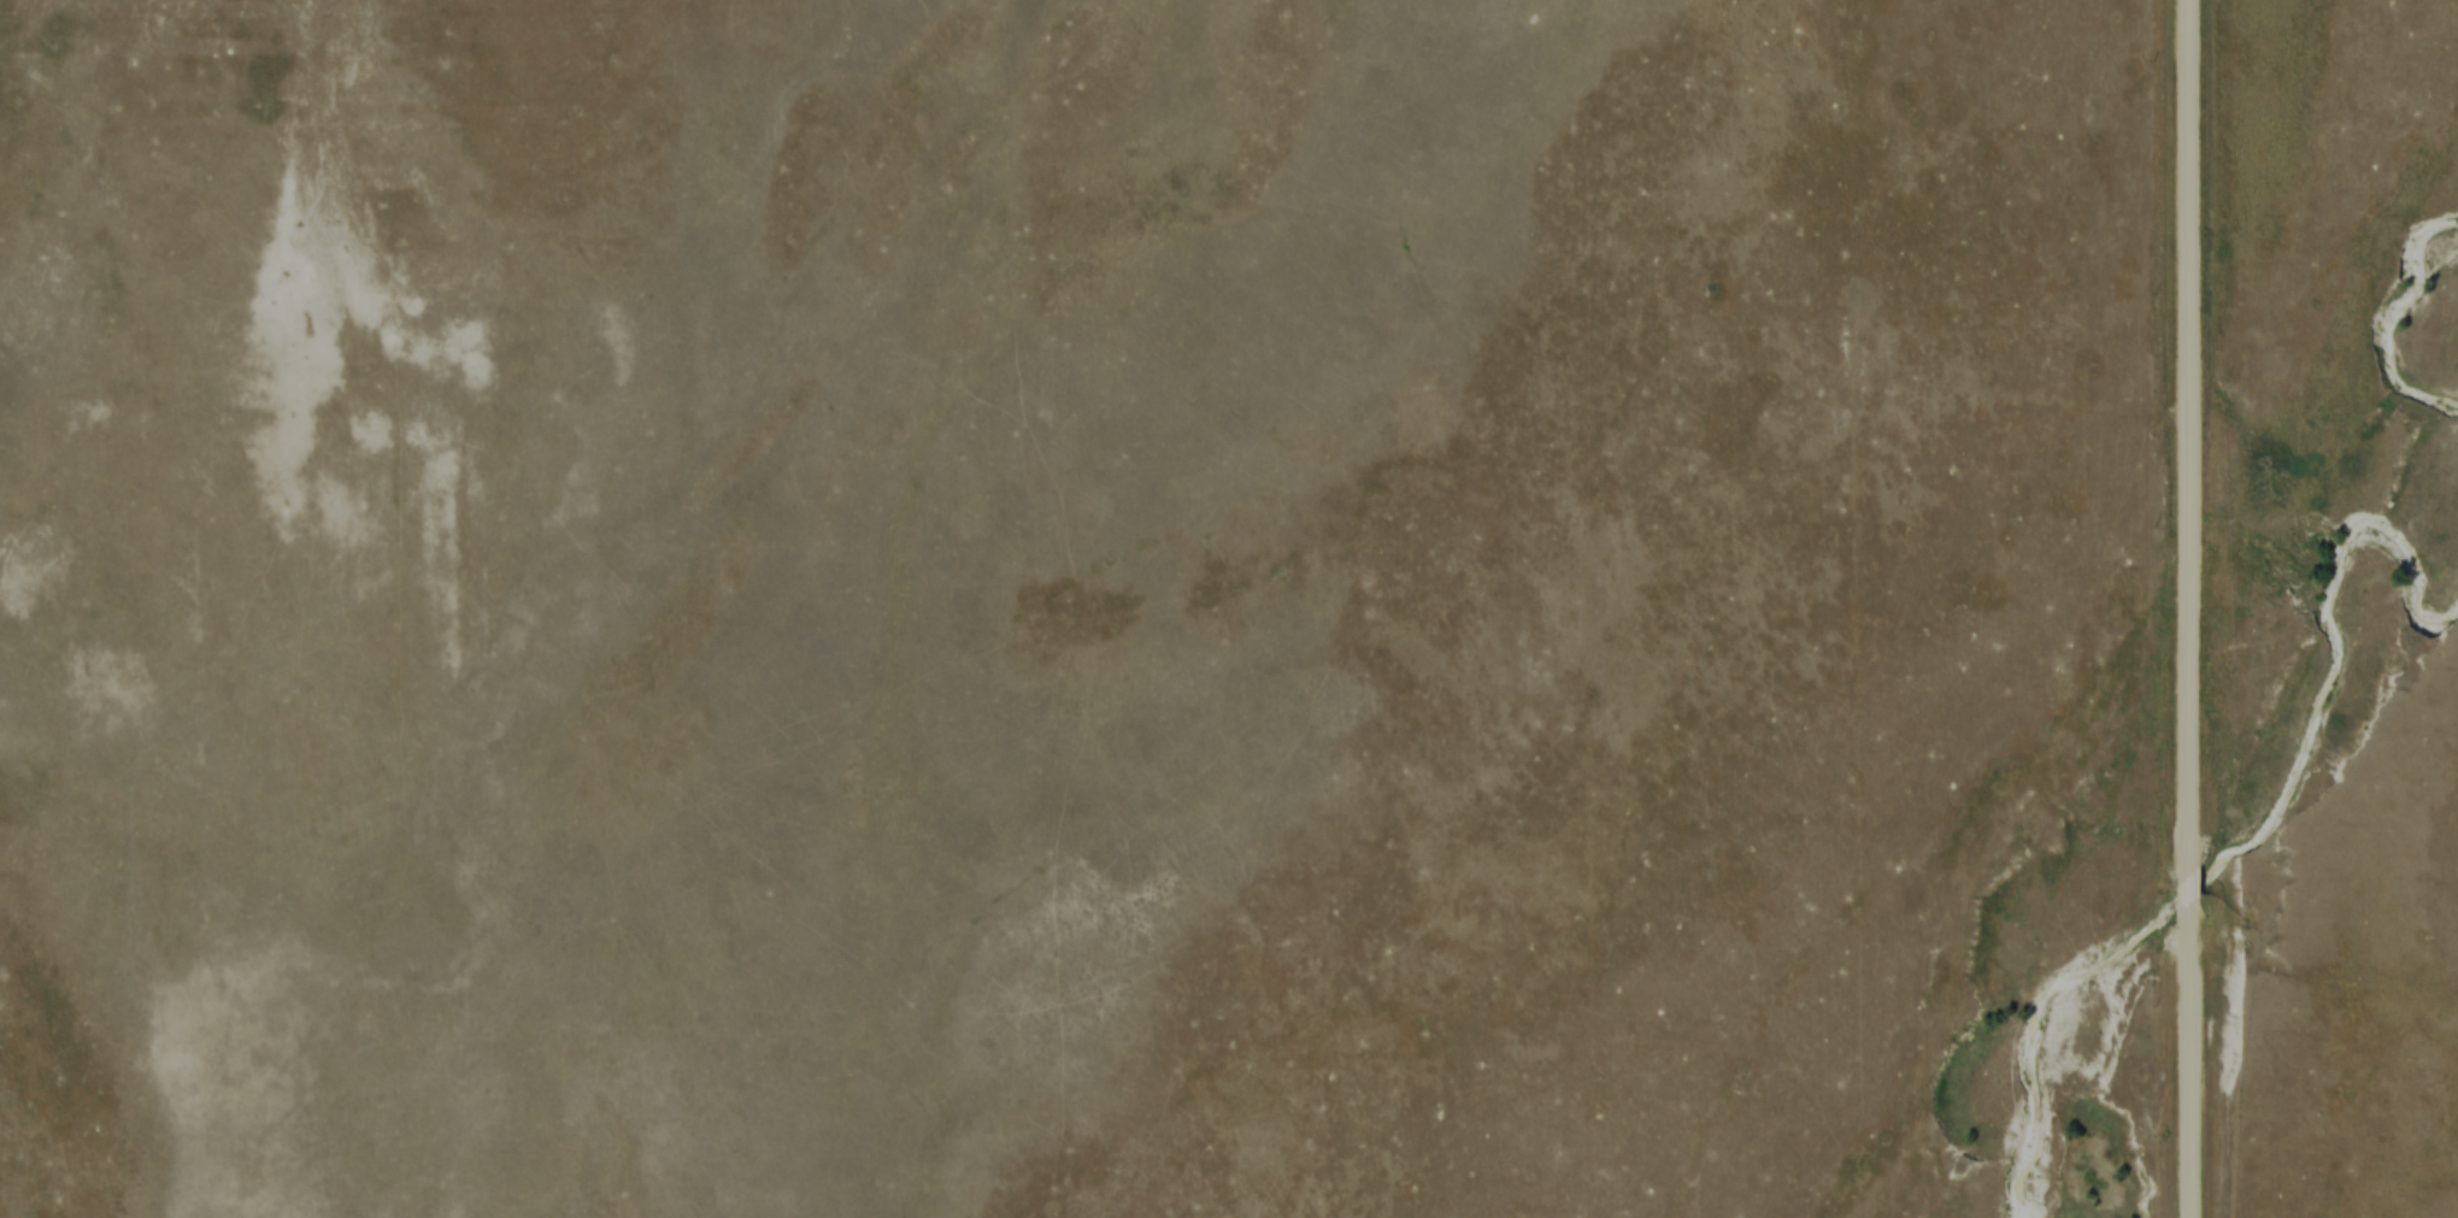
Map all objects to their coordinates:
road: (2191, 608)

